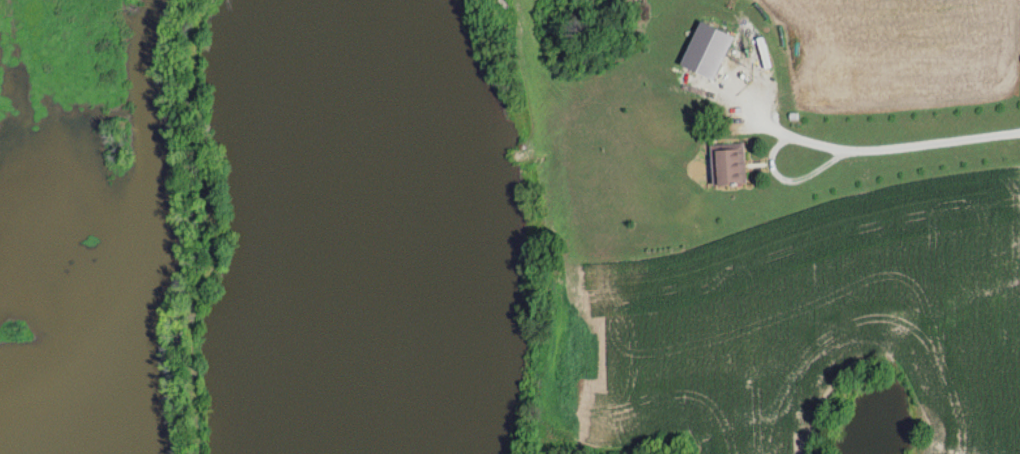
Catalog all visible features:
building: (706, 51)
building: (727, 164)

